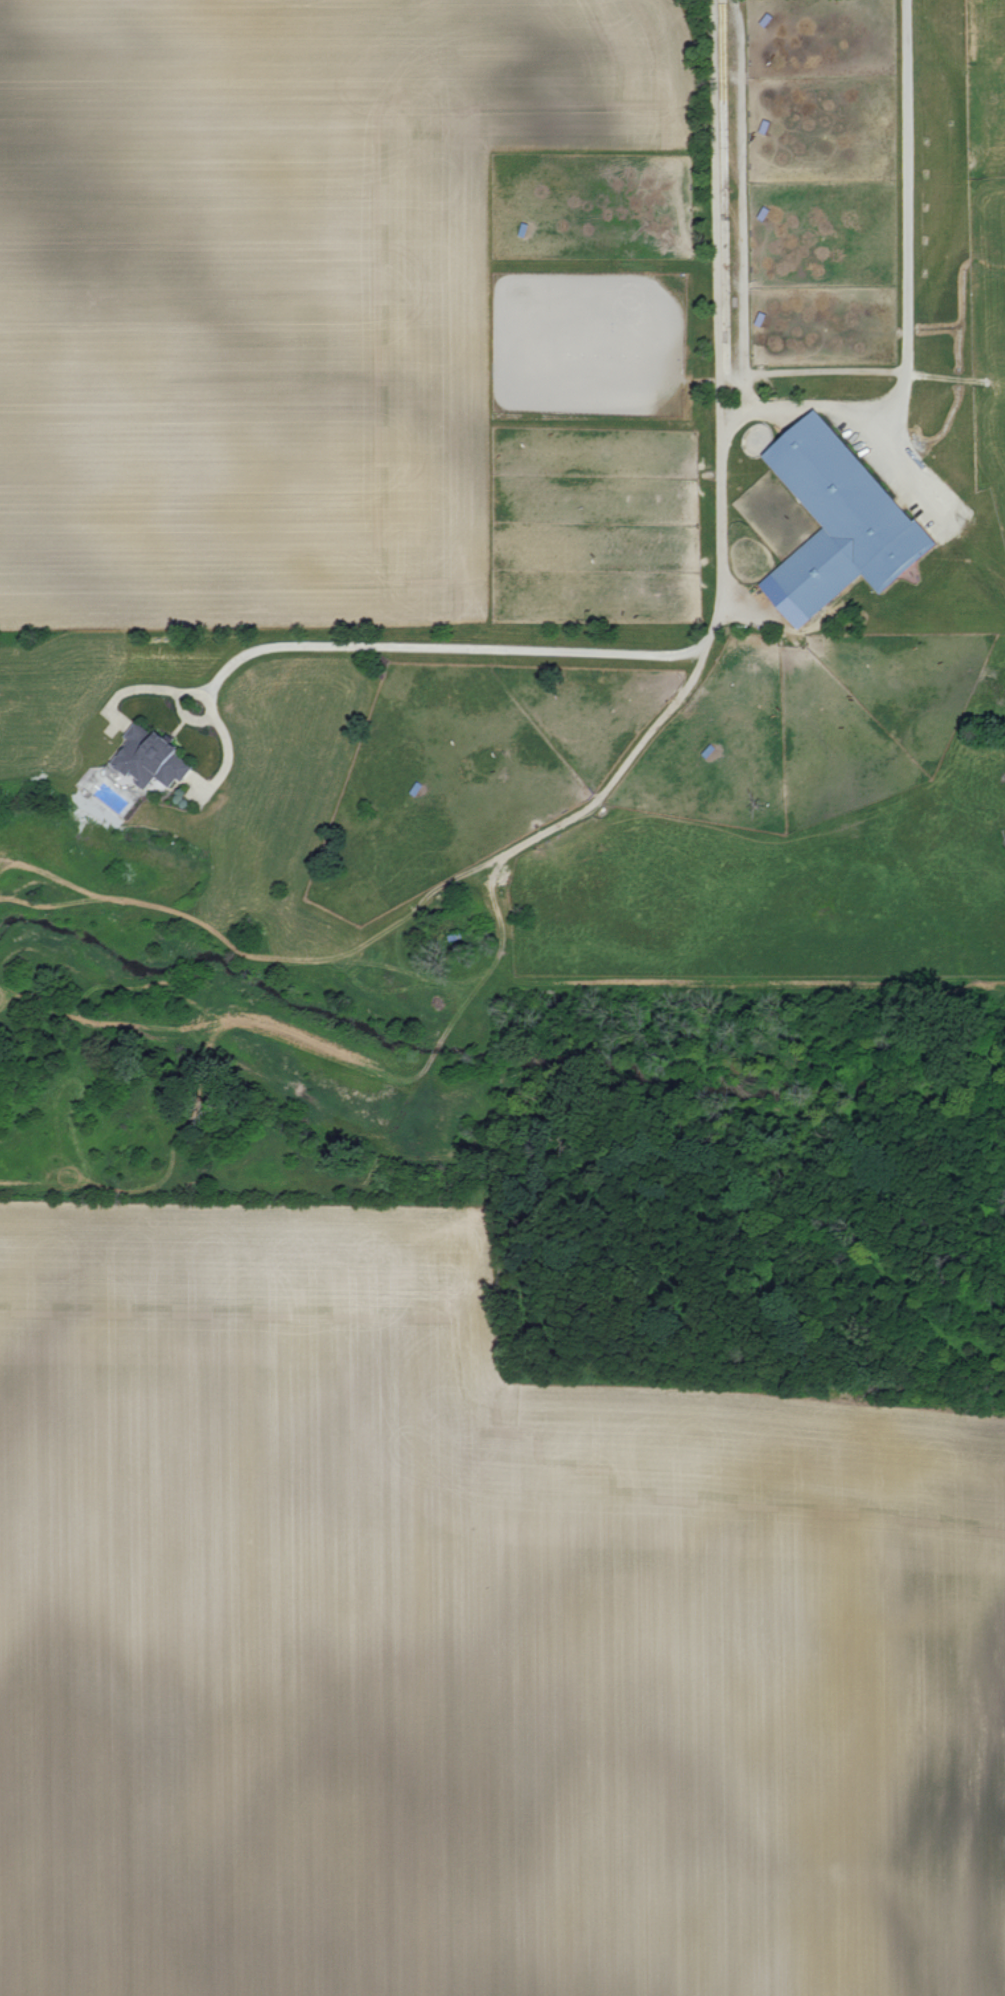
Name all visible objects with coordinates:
road: (908, 221)
road: (855, 412)
building: (833, 522)
road: (722, 585)
road: (187, 715)
building: (147, 759)

